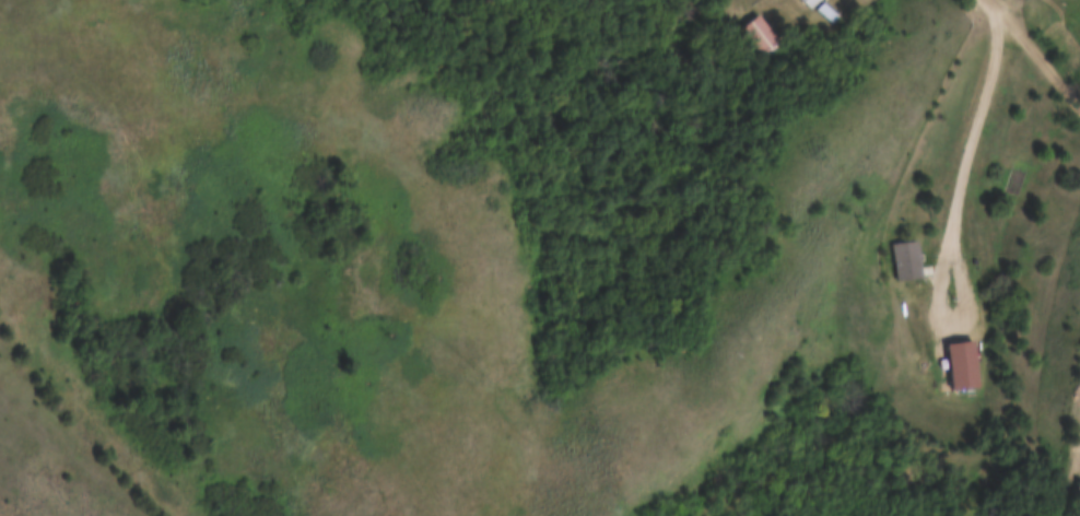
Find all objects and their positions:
building: (810, 3)
building: (827, 14)
building: (761, 36)
road: (1035, 54)
road: (970, 163)
building: (912, 261)
building: (955, 367)
building: (1079, 515)

